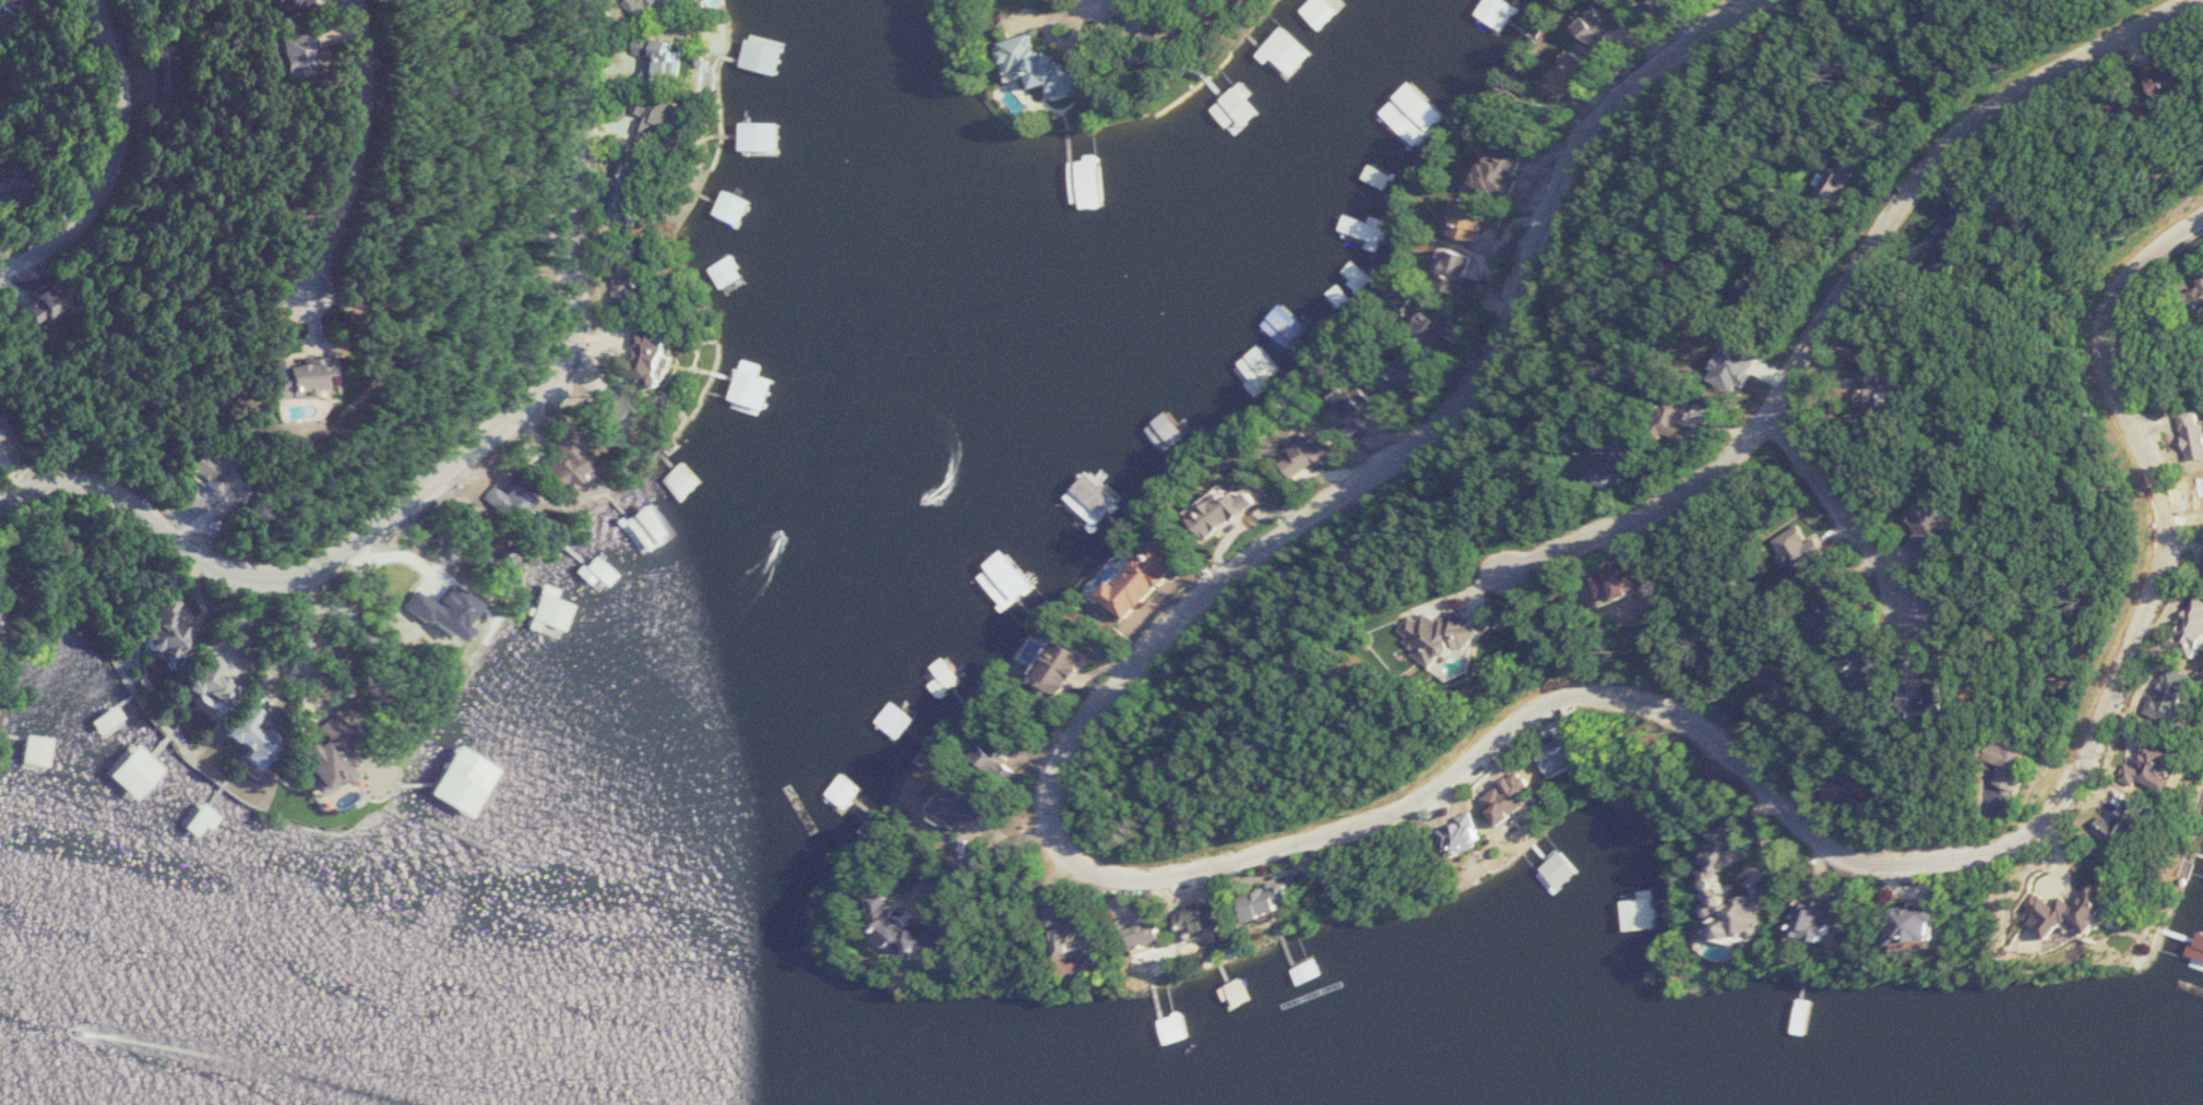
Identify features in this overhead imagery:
building: (17, 1)
road: (1101, 1)
building: (1657, 3)
building: (315, 4)
building: (1212, 4)
building: (648, 5)
building: (1324, 17)
building: (1604, 22)
building: (1172, 37)
building: (323, 55)
building: (763, 55)
building: (1287, 55)
building: (672, 59)
building: (1046, 67)
building: (183, 72)
building: (2186, 72)
building: (1574, 74)
building: (1237, 96)
building: (1418, 112)
building: (663, 120)
building: (761, 139)
road: (346, 147)
road: (107, 154)
building: (1508, 169)
building: (1865, 175)
building: (1093, 183)
building: (629, 192)
road: (23, 212)
building: (1477, 219)
building: (1368, 227)
building: (1463, 271)
building: (726, 272)
road: (1857, 279)
building: (631, 280)
building: (2202, 286)
building: (55, 301)
building: (1288, 325)
building: (1440, 327)
building: (654, 358)
building: (1417, 370)
building: (1896, 371)
building: (321, 374)
building: (753, 386)
building: (1364, 408)
building: (626, 411)
building: (1169, 430)
building: (2199, 430)
building: (1, 435)
building: (1313, 454)
building: (1638, 466)
road: (453, 467)
building: (573, 468)
building: (222, 471)
building: (524, 496)
building: (1094, 501)
building: (1227, 513)
road: (1847, 515)
building: (1961, 521)
building: (1147, 579)
building: (1010, 580)
building: (1865, 611)
building: (552, 612)
building: (428, 613)
building: (1, 616)
building: (175, 629)
building: (2195, 632)
road: (298, 635)
building: (1467, 635)
building: (533, 668)
building: (1897, 669)
building: (1068, 671)
building: (219, 682)
building: (2182, 695)
building: (1966, 698)
building: (897, 720)
building: (259, 736)
building: (37, 750)
building: (1569, 754)
building: (336, 757)
building: (1005, 758)
building: (2169, 764)
building: (136, 771)
building: (2035, 771)
building: (463, 780)
building: (847, 791)
building: (1857, 793)
building: (1519, 798)
building: (969, 803)
building: (2146, 816)
road: (1379, 817)
building: (197, 818)
building: (1600, 831)
building: (1468, 833)
building: (1563, 869)
building: (1741, 890)
building: (1274, 901)
building: (2099, 908)
building: (1644, 912)
building: (1204, 917)
building: (1832, 918)
building: (1931, 924)
building: (914, 929)
building: (1076, 932)
building: (1153, 935)
building: (2199, 946)
building: (1294, 969)

